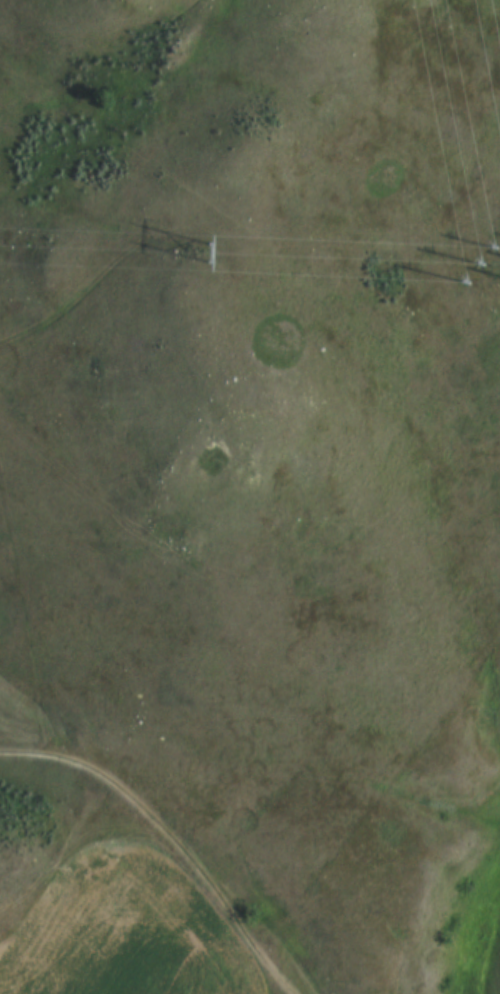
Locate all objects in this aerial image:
power tower: (212, 257)
power tower: (482, 267)
road: (168, 837)

